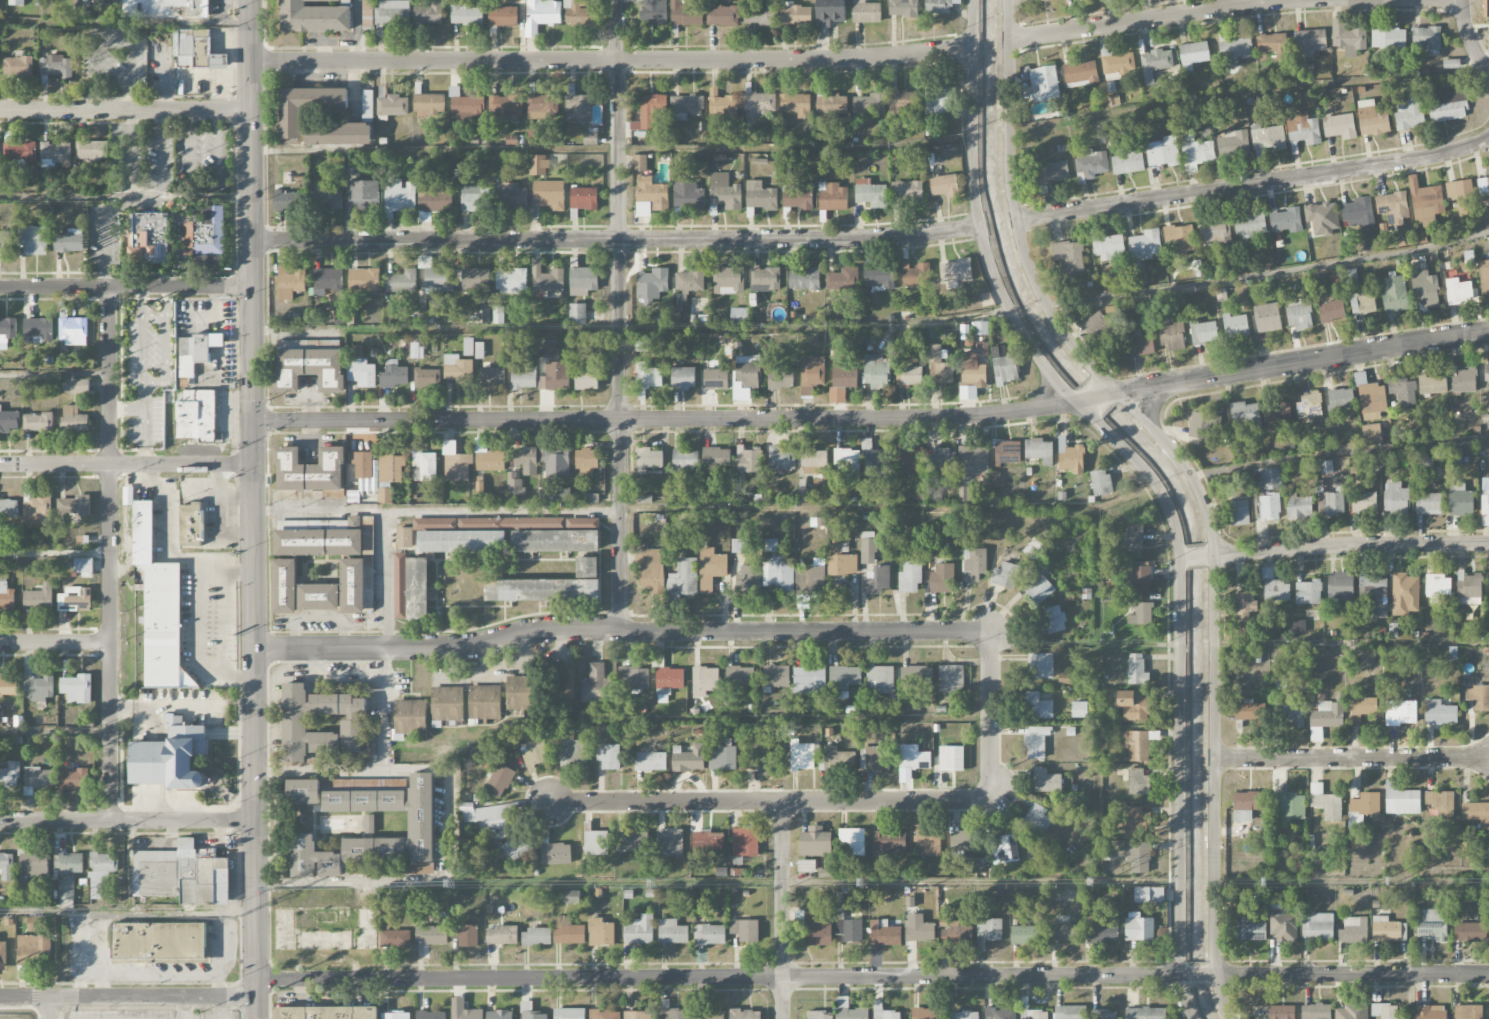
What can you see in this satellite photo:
building: (16, 2)
building: (939, 6)
building: (190, 7)
building: (903, 8)
building: (1486, 8)
building: (655, 11)
building: (367, 12)
building: (830, 12)
building: (866, 12)
building: (392, 13)
building: (579, 13)
building: (428, 14)
building: (686, 14)
building: (466, 15)
building: (541, 15)
building: (759, 15)
building: (795, 15)
building: (503, 16)
building: (723, 16)
building: (314, 17)
road: (1140, 20)
building: (1348, 38)
building: (1388, 38)
road: (1468, 38)
building: (1425, 40)
building: (1270, 42)
building: (1309, 42)
building: (175, 43)
building: (196, 50)
building: (1233, 51)
building: (1193, 54)
road: (611, 60)
building: (1116, 63)
building: (1155, 63)
building: (18, 65)
building: (56, 66)
building: (1079, 73)
building: (1043, 88)
building: (938, 101)
building: (906, 103)
building: (428, 104)
building: (760, 104)
building: (367, 105)
building: (392, 105)
building: (796, 105)
building: (869, 105)
building: (1448, 105)
building: (686, 106)
building: (466, 107)
building: (504, 107)
building: (542, 107)
building: (722, 108)
building: (832, 108)
road: (125, 109)
building: (306, 109)
building: (578, 109)
building: (650, 112)
building: (1409, 112)
building: (1372, 118)
building: (1339, 125)
building: (1303, 129)
building: (338, 134)
building: (532, 136)
building: (590, 139)
building: (1267, 140)
building: (1233, 143)
building: (91, 151)
building: (1162, 151)
building: (20, 152)
road: (160, 152)
building: (1197, 153)
building: (55, 154)
building: (1126, 162)
building: (640, 163)
building: (538, 165)
building: (1090, 165)
road: (131, 166)
building: (1053, 171)
road: (203, 182)
road: (1254, 183)
building: (1483, 186)
building: (907, 191)
building: (724, 192)
building: (549, 194)
building: (870, 194)
building: (510, 195)
building: (400, 196)
building: (435, 196)
building: (650, 196)
building: (688, 196)
building: (760, 196)
building: (1462, 196)
road: (66, 197)
building: (362, 197)
building: (798, 197)
building: (832, 197)
building: (471, 198)
building: (583, 198)
building: (325, 199)
building: (1425, 201)
building: (1392, 207)
building: (1357, 212)
building: (425, 217)
building: (1322, 217)
building: (1286, 220)
building: (1249, 225)
building: (1214, 232)
building: (150, 238)
building: (1182, 238)
building: (33, 240)
building: (4, 241)
building: (69, 241)
building: (206, 241)
road: (615, 241)
building: (1145, 244)
road: (106, 248)
building: (1109, 248)
building: (1069, 255)
building: (955, 272)
road: (1268, 272)
building: (916, 274)
building: (436, 277)
building: (878, 277)
building: (1350, 277)
building: (1484, 277)
building: (328, 279)
building: (364, 279)
building: (475, 279)
building: (547, 279)
building: (582, 279)
building: (765, 279)
building: (804, 279)
building: (843, 279)
building: (402, 281)
building: (511, 281)
building: (728, 281)
building: (290, 282)
building: (689, 283)
building: (652, 284)
road: (126, 287)
building: (1425, 287)
building: (1458, 291)
building: (1394, 294)
building: (1362, 302)
building: (1331, 311)
building: (478, 313)
building: (577, 314)
building: (1299, 314)
building: (497, 315)
road: (619, 315)
building: (739, 316)
building: (1267, 317)
building: (1236, 326)
building: (1096, 327)
road: (436, 328)
building: (8, 330)
building: (38, 330)
building: (981, 330)
building: (73, 331)
building: (1202, 332)
building: (1172, 336)
building: (1142, 342)
building: (641, 343)
building: (472, 348)
building: (547, 350)
building: (192, 354)
road: (1296, 362)
building: (1003, 367)
building: (360, 368)
building: (939, 368)
building: (309, 369)
building: (457, 370)
building: (972, 370)
building: (875, 371)
building: (747, 372)
building: (1486, 373)
building: (811, 374)
road: (54, 375)
building: (394, 375)
building: (555, 376)
building: (648, 376)
building: (909, 376)
building: (492, 377)
building: (523, 377)
building: (427, 378)
building: (683, 378)
building: (780, 378)
building: (715, 379)
building: (586, 380)
building: (1463, 381)
building: (842, 384)
building: (1432, 384)
building: (75, 386)
building: (1403, 390)
road: (1095, 396)
building: (1338, 400)
building: (1372, 401)
building: (1306, 403)
building: (1275, 414)
building: (196, 416)
building: (1244, 416)
road: (669, 418)
building: (73, 419)
building: (9, 421)
traffic signals: (251, 421)
building: (38, 422)
building: (1204, 424)
building: (1371, 433)
building: (1039, 451)
road: (1339, 451)
building: (1007, 452)
building: (872, 456)
building: (716, 457)
building: (1070, 457)
building: (782, 458)
building: (943, 458)
building: (648, 459)
building: (846, 459)
building: (526, 460)
building: (749, 460)
building: (909, 460)
building: (973, 460)
building: (1422, 460)
building: (490, 461)
building: (686, 461)
building: (814, 461)
building: (557, 462)
building: (587, 462)
building: (455, 463)
road: (126, 464)
building: (422, 464)
building: (391, 467)
building: (1326, 467)
building: (310, 470)
building: (364, 470)
building: (1271, 478)
road: (1195, 481)
building: (1099, 482)
road: (1155, 483)
building: (514, 485)
building: (286, 494)
building: (966, 494)
building: (385, 496)
building: (675, 496)
building: (590, 498)
building: (1395, 499)
building: (1485, 501)
building: (1330, 502)
building: (1363, 502)
building: (1460, 502)
building: (1428, 503)
building: (1298, 505)
building: (73, 507)
building: (1267, 507)
building: (8, 508)
road: (252, 509)
building: (36, 510)
road: (436, 512)
building: (1239, 512)
building: (191, 525)
building: (404, 537)
building: (321, 541)
building: (462, 541)
building: (1132, 542)
road: (1347, 543)
building: (869, 545)
building: (738, 546)
building: (840, 546)
building: (1034, 549)
road: (110, 554)
road: (1197, 556)
road: (1184, 557)
building: (973, 564)
building: (83, 565)
building: (842, 565)
building: (587, 567)
building: (651, 569)
building: (711, 569)
road: (225, 571)
building: (779, 574)
building: (1006, 575)
road: (197, 577)
building: (910, 577)
building: (1139, 578)
building: (683, 579)
building: (878, 579)
building: (942, 579)
road: (382, 580)
building: (749, 580)
building: (810, 581)
building: (284, 586)
building: (352, 586)
building: (399, 586)
building: (1274, 586)
building: (1340, 586)
building: (1037, 587)
building: (1437, 587)
building: (417, 588)
building: (1469, 588)
building: (542, 590)
building: (1307, 592)
building: (1404, 593)
building: (6, 595)
building: (369, 595)
building: (1373, 596)
building: (318, 597)
building: (38, 598)
building: (74, 599)
building: (1244, 604)
building: (159, 609)
building: (1140, 612)
building: (1054, 619)
building: (1298, 626)
road: (620, 630)
road: (55, 643)
building: (1040, 665)
building: (1136, 669)
road: (338, 674)
building: (776, 676)
building: (916, 676)
building: (739, 677)
building: (633, 678)
building: (670, 678)
building: (880, 678)
building: (1064, 678)
building: (951, 679)
building: (566, 680)
building: (809, 680)
building: (704, 681)
building: (843, 681)
building: (8, 685)
building: (596, 685)
building: (38, 688)
building: (359, 688)
building: (76, 689)
building: (521, 693)
building: (1478, 697)
building: (484, 702)
building: (447, 704)
building: (1132, 704)
building: (1038, 705)
building: (1363, 706)
road: (385, 709)
building: (1078, 709)
building: (1402, 710)
building: (1250, 711)
building: (1292, 711)
building: (1439, 712)
building: (1327, 714)
road: (989, 715)
building: (343, 717)
building: (410, 718)
building: (0, 719)
building: (302, 728)
building: (369, 741)
building: (1035, 742)
building: (1137, 744)
building: (570, 750)
building: (534, 753)
building: (801, 756)
building: (171, 757)
building: (608, 757)
road: (1351, 757)
building: (688, 758)
building: (722, 758)
building: (877, 758)
building: (913, 758)
building: (951, 758)
building: (836, 760)
building: (764, 761)
building: (650, 762)
road: (418, 769)
road: (320, 770)
building: (10, 775)
building: (39, 778)
building: (74, 779)
building: (499, 780)
building: (1045, 780)
building: (1137, 781)
building: (303, 792)
building: (1400, 799)
road: (768, 800)
building: (1326, 802)
building: (1362, 803)
building: (1438, 804)
building: (1246, 805)
building: (1290, 805)
building: (1476, 812)
building: (487, 818)
building: (1037, 818)
road: (127, 820)
building: (1132, 820)
road: (448, 822)
building: (368, 823)
building: (421, 823)
building: (890, 840)
building: (632, 841)
building: (745, 842)
building: (815, 842)
building: (851, 842)
building: (595, 843)
building: (670, 843)
building: (708, 843)
building: (928, 843)
building: (1004, 849)
building: (516, 851)
building: (963, 853)
building: (556, 854)
building: (1138, 856)
building: (33, 865)
building: (806, 866)
building: (359, 869)
building: (421, 869)
building: (580, 869)
building: (100, 871)
building: (67, 873)
building: (182, 875)
road: (354, 880)
power tower: (1397, 882)
power tower: (871, 884)
power tower: (1101, 884)
power tower: (1270, 884)
power tower: (461, 886)
power tower: (663, 887)
power tower: (274, 891)
building: (1148, 894)
building: (572, 897)
building: (1208, 900)
road: (781, 909)
road: (127, 911)
power tower: (46, 914)
power tower: (236, 918)
building: (848, 925)
building: (1432, 925)
building: (1318, 926)
building: (1138, 927)
building: (1284, 927)
building: (819, 928)
building: (918, 929)
building: (989, 929)
building: (1250, 929)
building: (1387, 929)
building: (639, 930)
building: (745, 930)
building: (1353, 930)
building: (1469, 931)
building: (567, 932)
building: (672, 932)
building: (1063, 932)
building: (1102, 932)
building: (884, 933)
building: (955, 933)
building: (602, 934)
building: (1022, 934)
building: (431, 935)
building: (468, 935)
building: (502, 935)
building: (710, 935)
building: (536, 937)
building: (395, 938)
building: (158, 941)
building: (30, 948)
building: (2, 956)
road: (1348, 973)
road: (1198, 974)
road: (722, 977)
road: (127, 996)
road: (183, 1007)
road: (219, 1007)
road: (50, 1008)
building: (463, 1010)
building: (850, 1010)
building: (1315, 1011)
building: (1352, 1011)
building: (1386, 1011)
building: (1467, 1011)
building: (530, 1012)
building: (883, 1012)
building: (1070, 1012)
building: (1281, 1012)
building: (1430, 1012)
building: (326, 1013)
building: (569, 1013)
building: (672, 1013)
building: (925, 1013)
building: (1000, 1013)
building: (1145, 1013)
building: (604, 1014)
building: (708, 1014)
building: (744, 1014)
building: (1038, 1014)
building: (1103, 1014)
building: (430, 1015)
building: (499, 1015)
building: (637, 1015)
building: (820, 1015)
building: (964, 1015)
building: (395, 1016)

